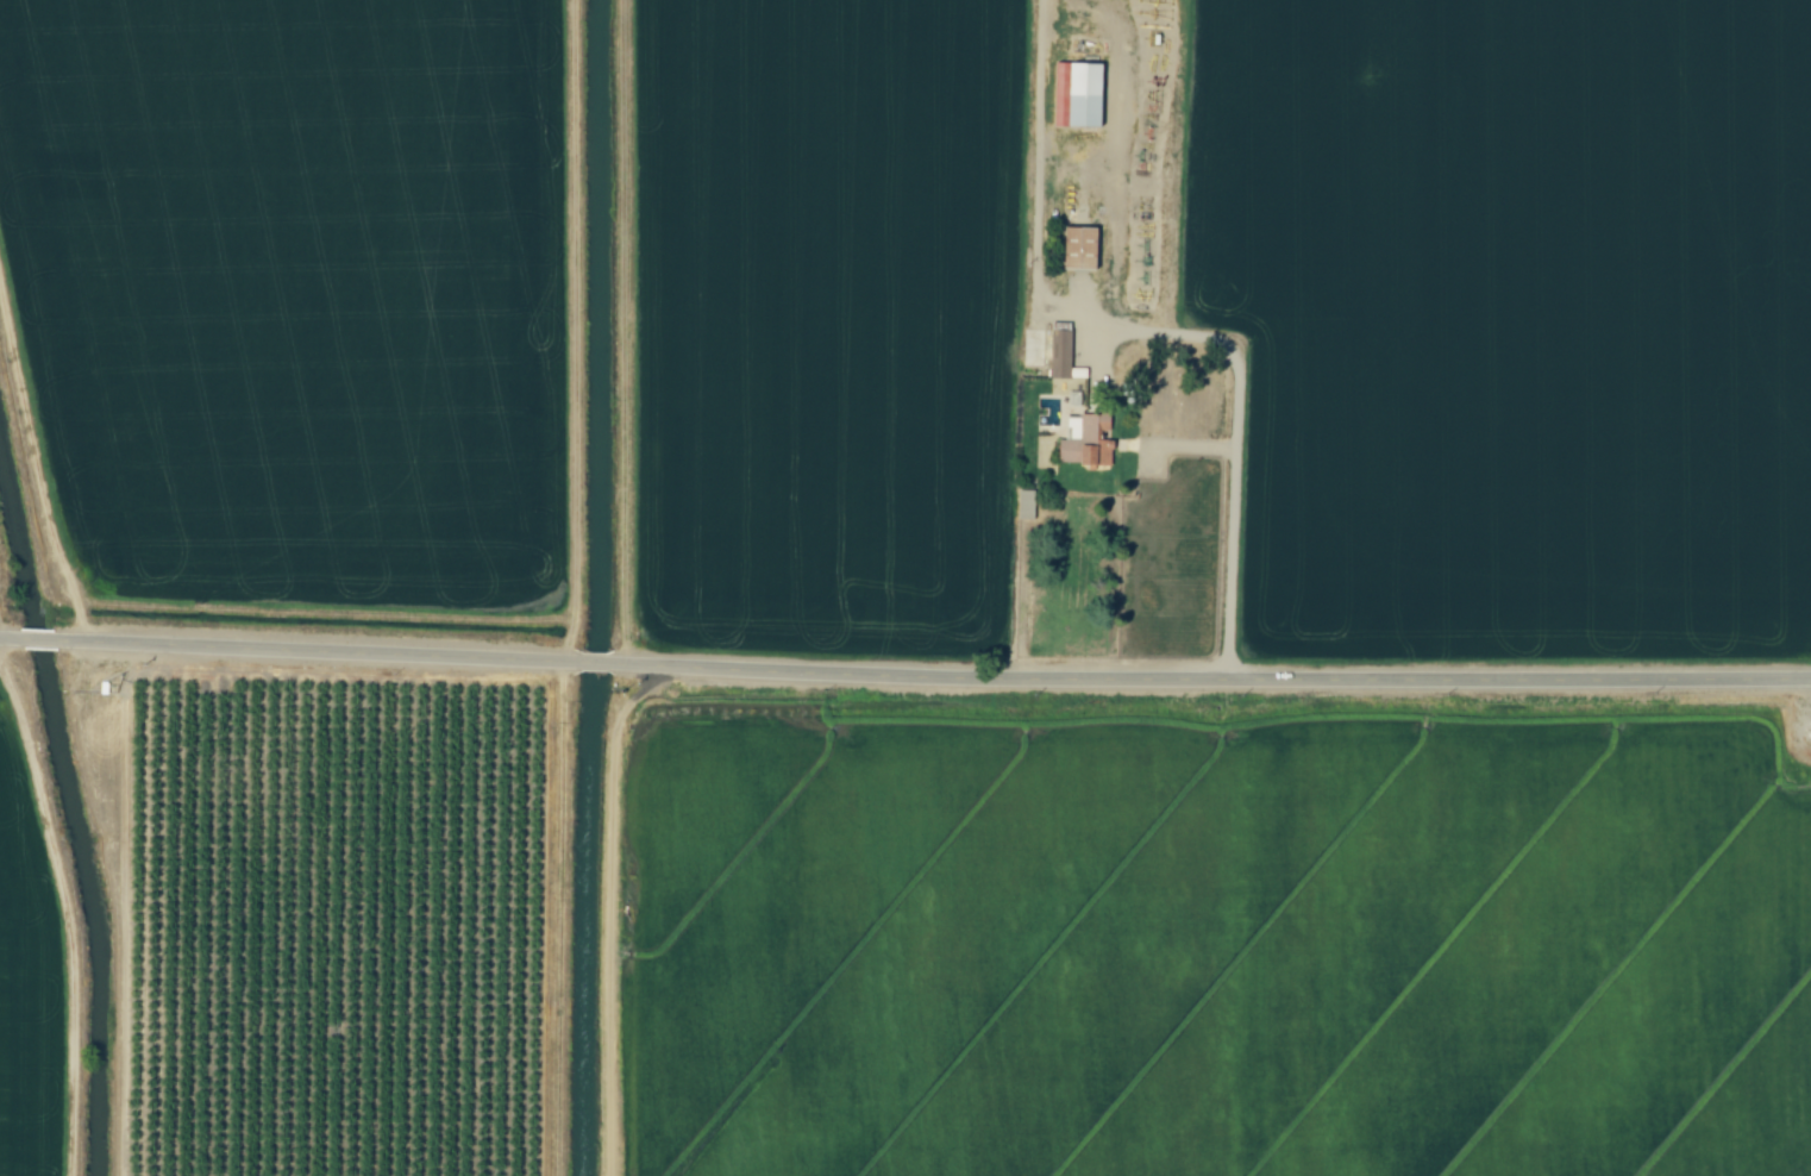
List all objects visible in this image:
building: (1078, 93)
building: (1078, 249)
road: (1151, 330)
building: (1060, 354)
building: (1085, 442)
road: (904, 677)
road: (63, 912)

